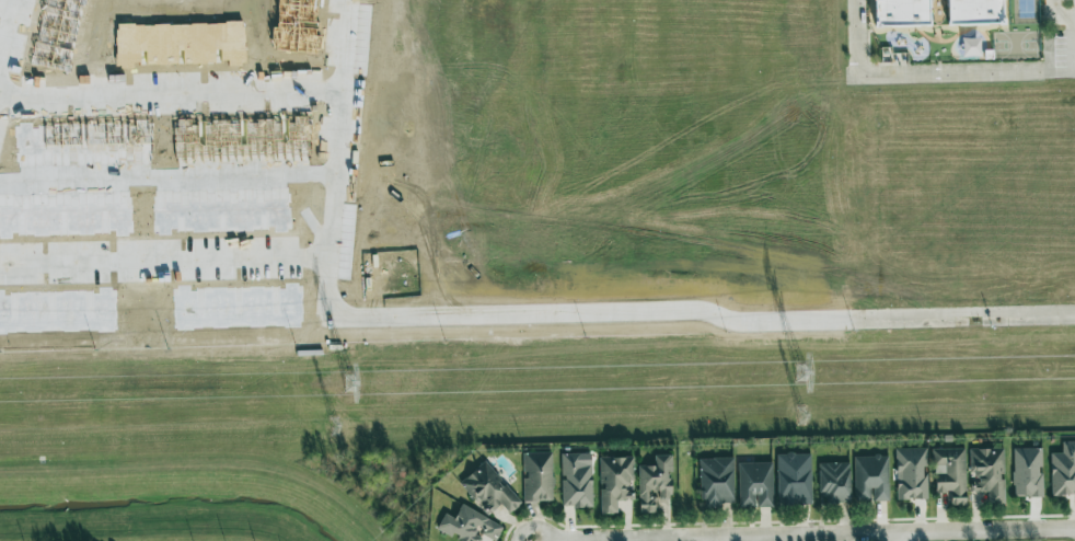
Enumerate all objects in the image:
building: (901, 12)
building: (974, 12)
road: (1056, 15)
road: (8, 32)
road: (928, 72)
road: (248, 177)
power tower: (797, 377)
power tower: (347, 384)
power tower: (801, 416)
power tower: (333, 426)
building: (1063, 470)
building: (1027, 472)
building: (911, 473)
building: (989, 473)
building: (950, 474)
building: (537, 476)
building: (870, 477)
building: (794, 479)
building: (576, 480)
building: (615, 482)
building: (716, 482)
building: (834, 482)
building: (654, 483)
building: (755, 484)
building: (489, 490)
building: (469, 526)
road: (911, 537)
road: (898, 539)

